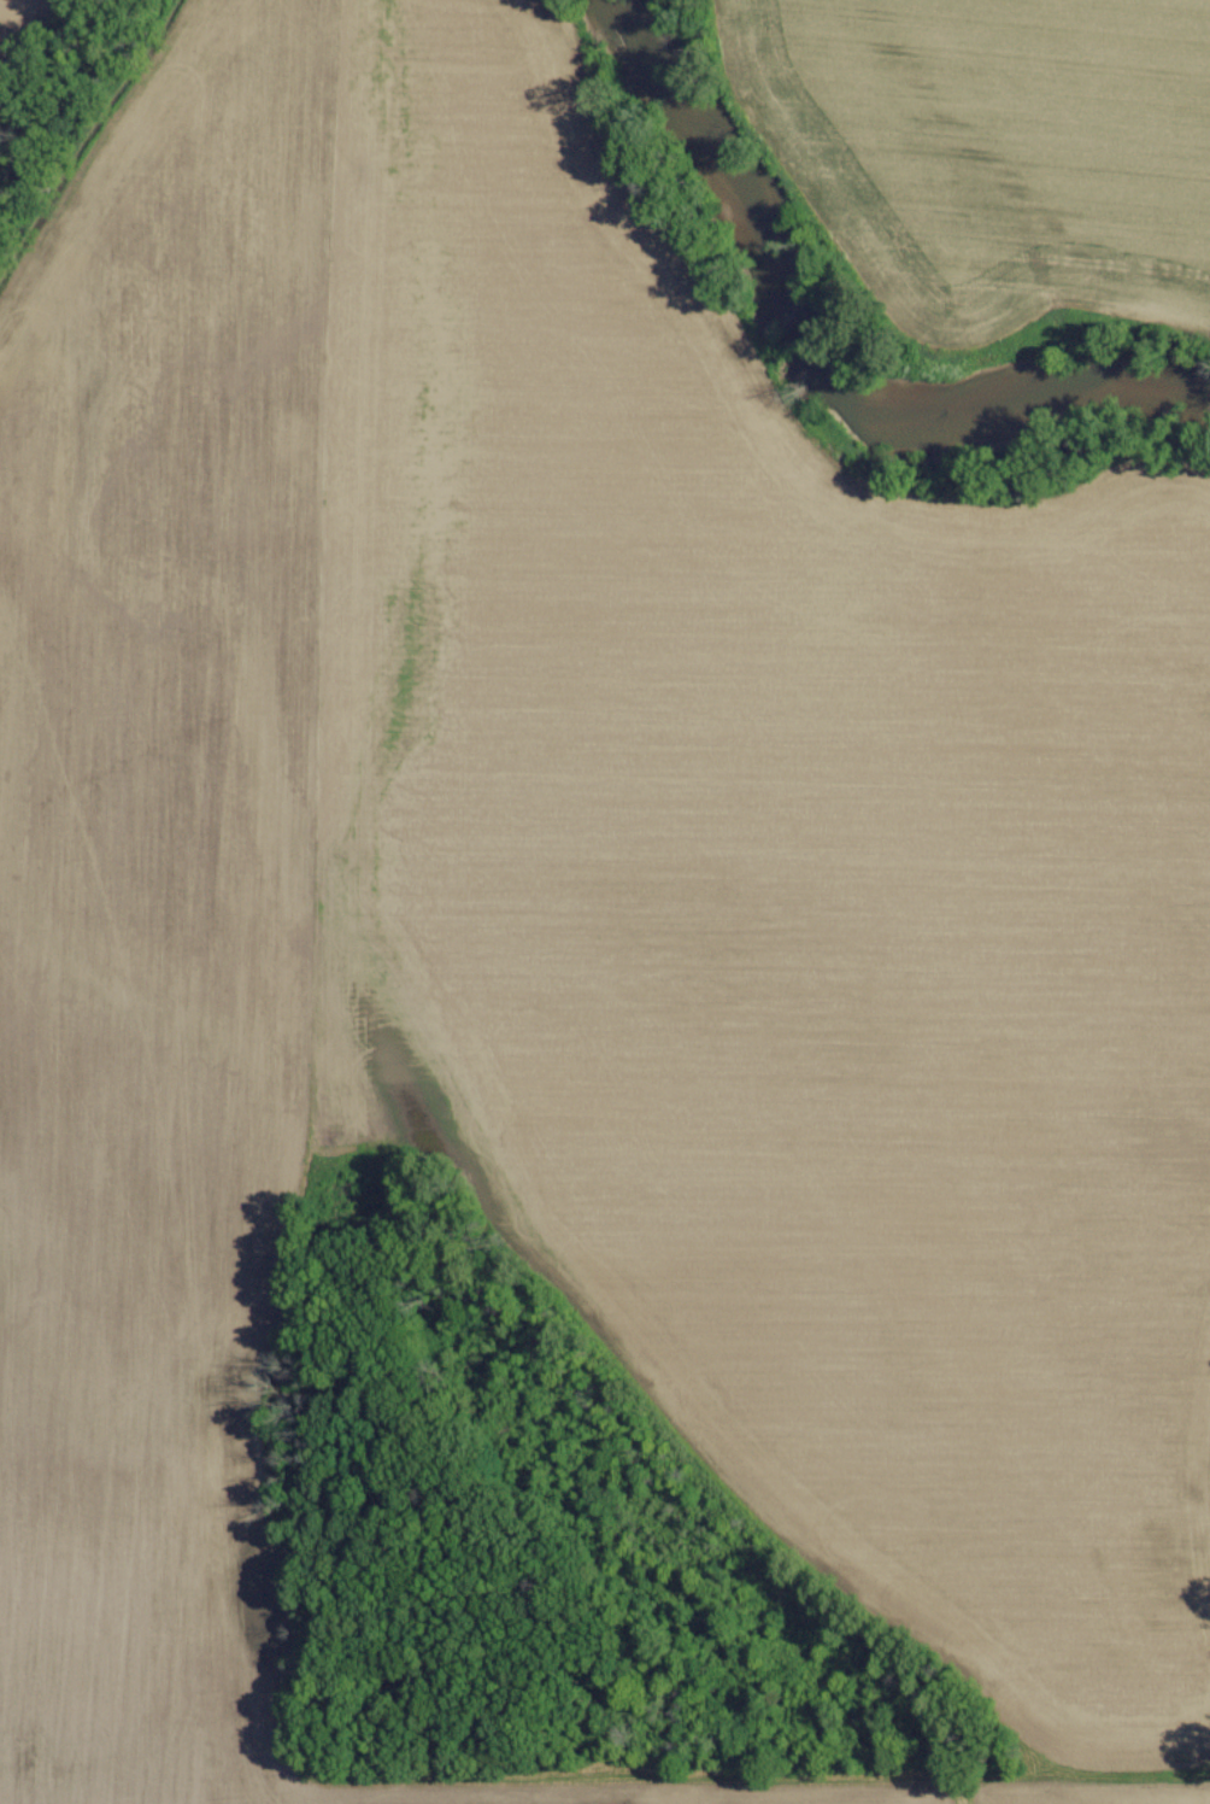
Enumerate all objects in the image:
river: (828, 368)

